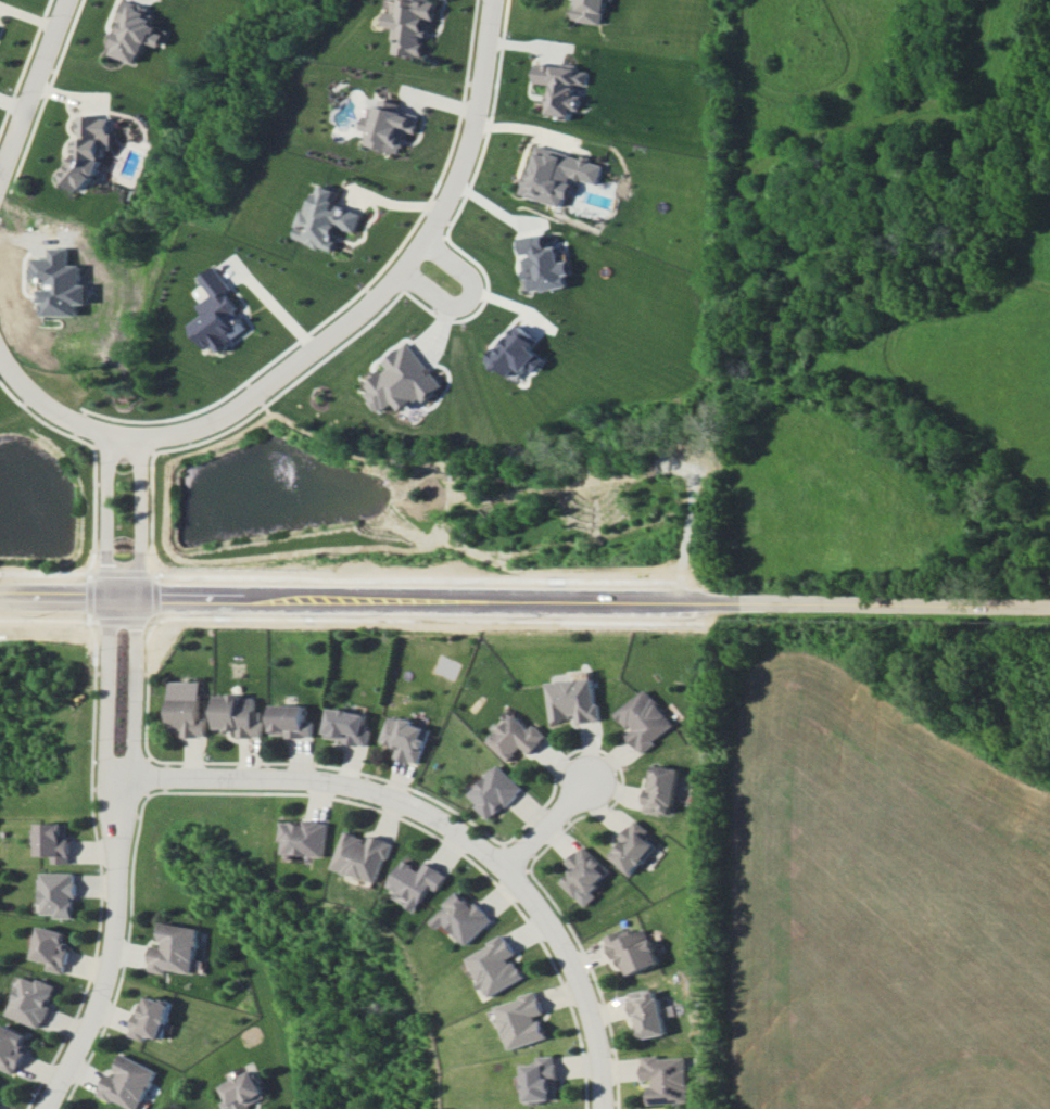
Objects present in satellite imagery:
building: (589, 11)
building: (412, 25)
building: (135, 30)
road: (33, 85)
building: (562, 87)
building: (390, 126)
building: (88, 149)
building: (557, 174)
building: (327, 219)
building: (543, 264)
building: (59, 282)
road: (383, 286)
road: (468, 301)
building: (218, 313)
building: (518, 353)
building: (403, 380)
road: (123, 442)
road: (524, 594)
building: (572, 700)
building: (186, 709)
building: (238, 715)
building: (643, 719)
building: (290, 721)
building: (346, 726)
building: (516, 737)
building: (405, 738)
road: (327, 783)
building: (659, 790)
building: (494, 791)
road: (546, 827)
building: (305, 838)
building: (55, 841)
building: (631, 846)
building: (364, 855)
road: (119, 858)
building: (583, 875)
building: (418, 882)
building: (59, 894)
building: (465, 917)
building: (52, 947)
building: (175, 948)
building: (632, 948)
building: (499, 966)
road: (579, 980)
building: (31, 1000)
building: (646, 1011)
building: (149, 1017)
building: (526, 1020)
building: (12, 1046)
building: (543, 1079)
building: (665, 1079)
building: (0, 1080)
building: (125, 1082)
building: (244, 1091)
building: (0, 1100)

